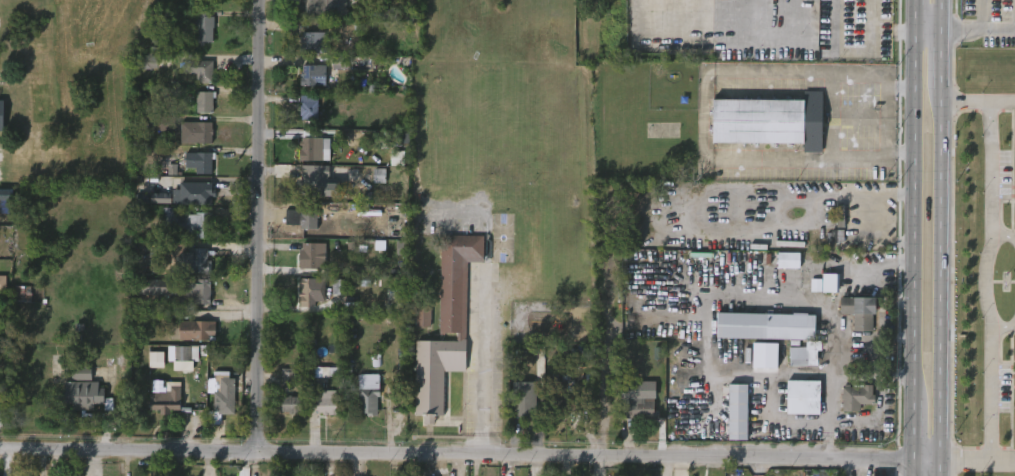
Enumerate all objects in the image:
building: (325, 7)
building: (379, 13)
road: (941, 13)
road: (914, 14)
road: (990, 14)
building: (205, 25)
road: (927, 26)
road: (977, 27)
road: (879, 29)
building: (312, 43)
road: (941, 57)
building: (146, 62)
building: (202, 70)
building: (311, 76)
road: (978, 99)
building: (207, 101)
building: (308, 107)
building: (1, 115)
building: (770, 121)
building: (168, 123)
road: (828, 123)
building: (203, 131)
building: (315, 146)
building: (397, 158)
building: (202, 161)
road: (774, 162)
building: (379, 176)
building: (355, 177)
building: (316, 180)
building: (205, 193)
building: (161, 198)
road: (913, 214)
building: (840, 217)
building: (300, 219)
building: (189, 222)
road: (256, 226)
building: (843, 237)
building: (310, 256)
building: (788, 260)
building: (194, 261)
building: (155, 265)
road: (842, 266)
road: (940, 276)
road: (990, 281)
building: (2, 283)
building: (825, 284)
building: (179, 288)
building: (310, 291)
building: (23, 294)
building: (339, 295)
road: (720, 298)
building: (859, 311)
building: (425, 314)
building: (446, 324)
building: (766, 325)
building: (196, 330)
road: (872, 335)
building: (751, 352)
building: (796, 356)
building: (182, 357)
building: (156, 360)
road: (481, 360)
building: (325, 372)
road: (871, 373)
building: (81, 374)
building: (288, 376)
building: (367, 393)
building: (83, 396)
building: (559, 396)
building: (802, 396)
building: (223, 397)
building: (164, 399)
building: (523, 399)
building: (855, 400)
building: (325, 403)
building: (291, 405)
building: (643, 409)
building: (737, 411)
road: (912, 432)
road: (456, 454)
road: (977, 463)
road: (925, 464)
road: (911, 470)
road: (939, 470)

